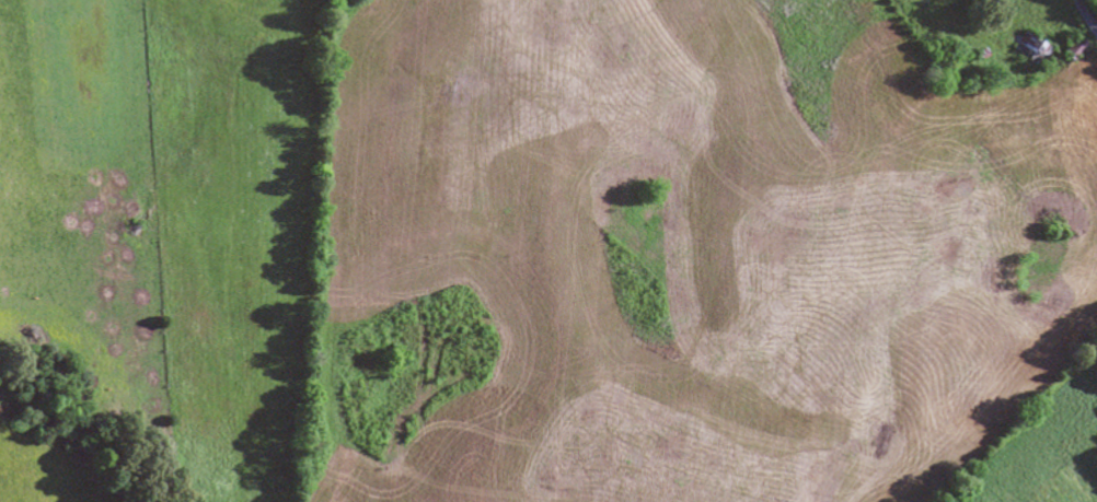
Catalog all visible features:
road: (1086, 15)
building: (1070, 49)
building: (1027, 51)

